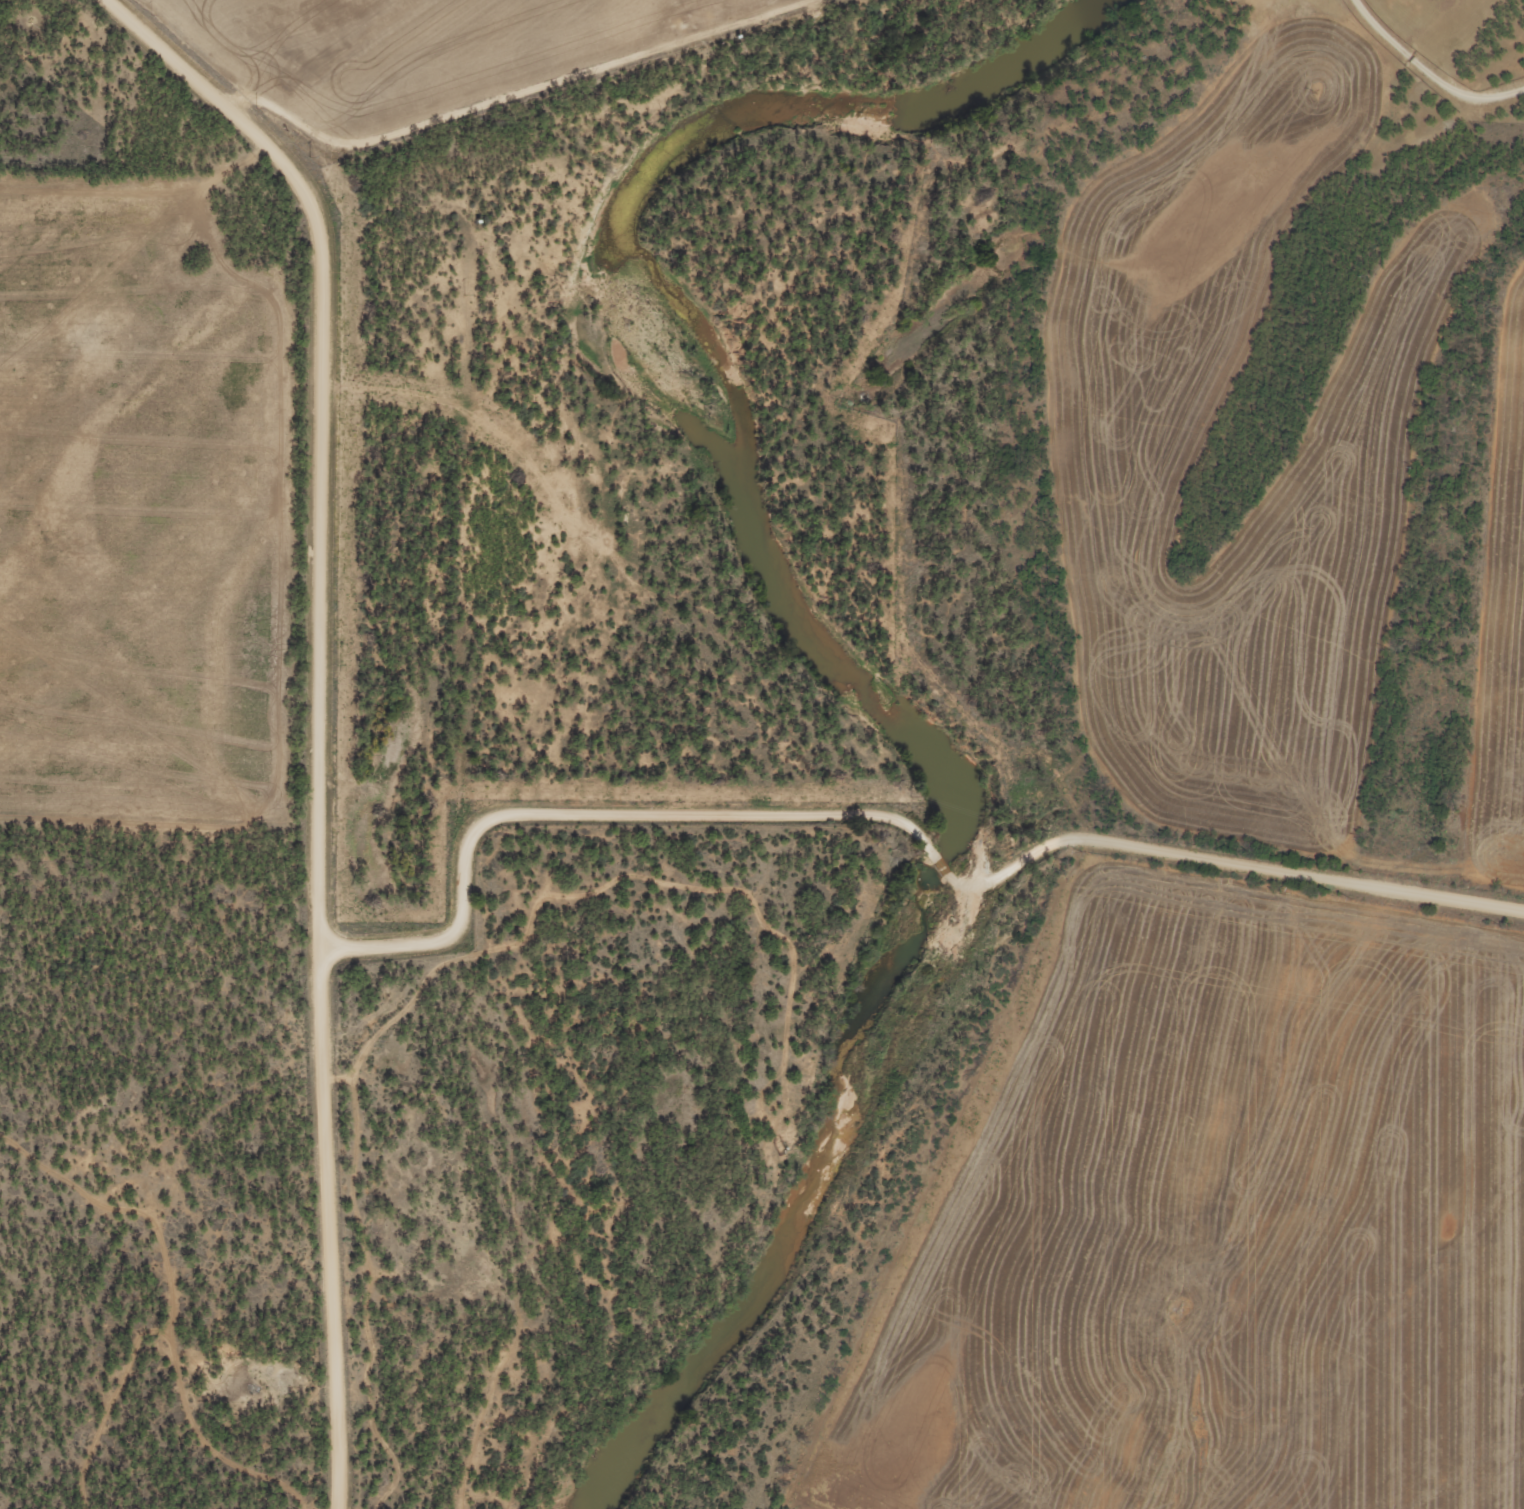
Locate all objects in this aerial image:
road: (326, 714)
road: (621, 816)
road: (1226, 863)
road: (941, 865)

